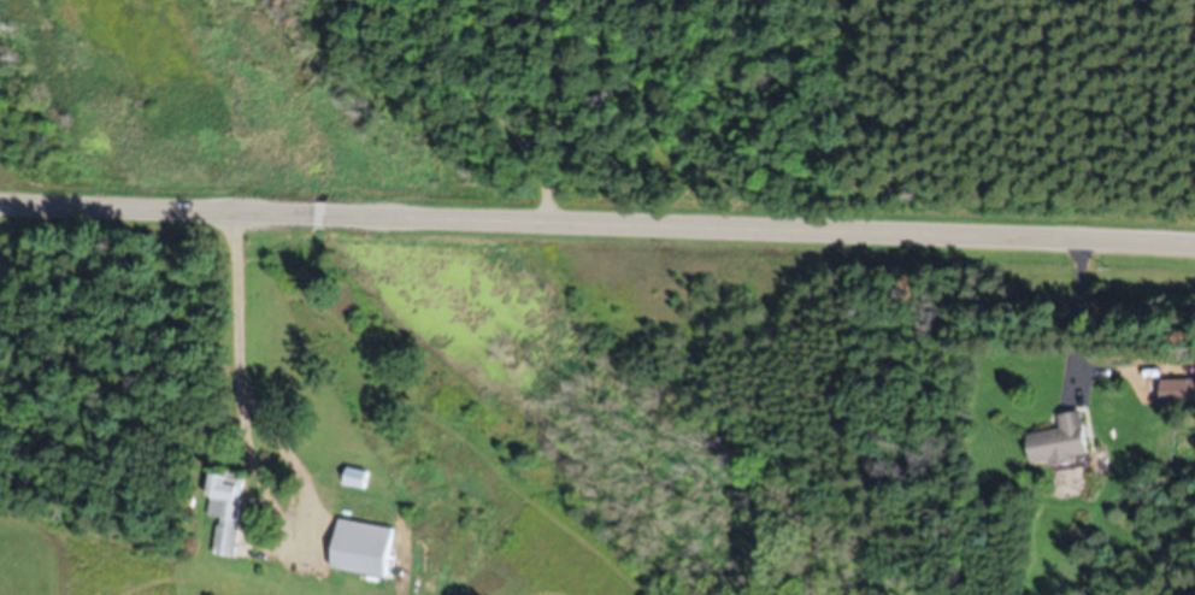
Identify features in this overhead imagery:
road: (596, 220)
building: (1178, 390)
building: (1062, 442)
building: (358, 477)
building: (228, 509)
building: (365, 548)

